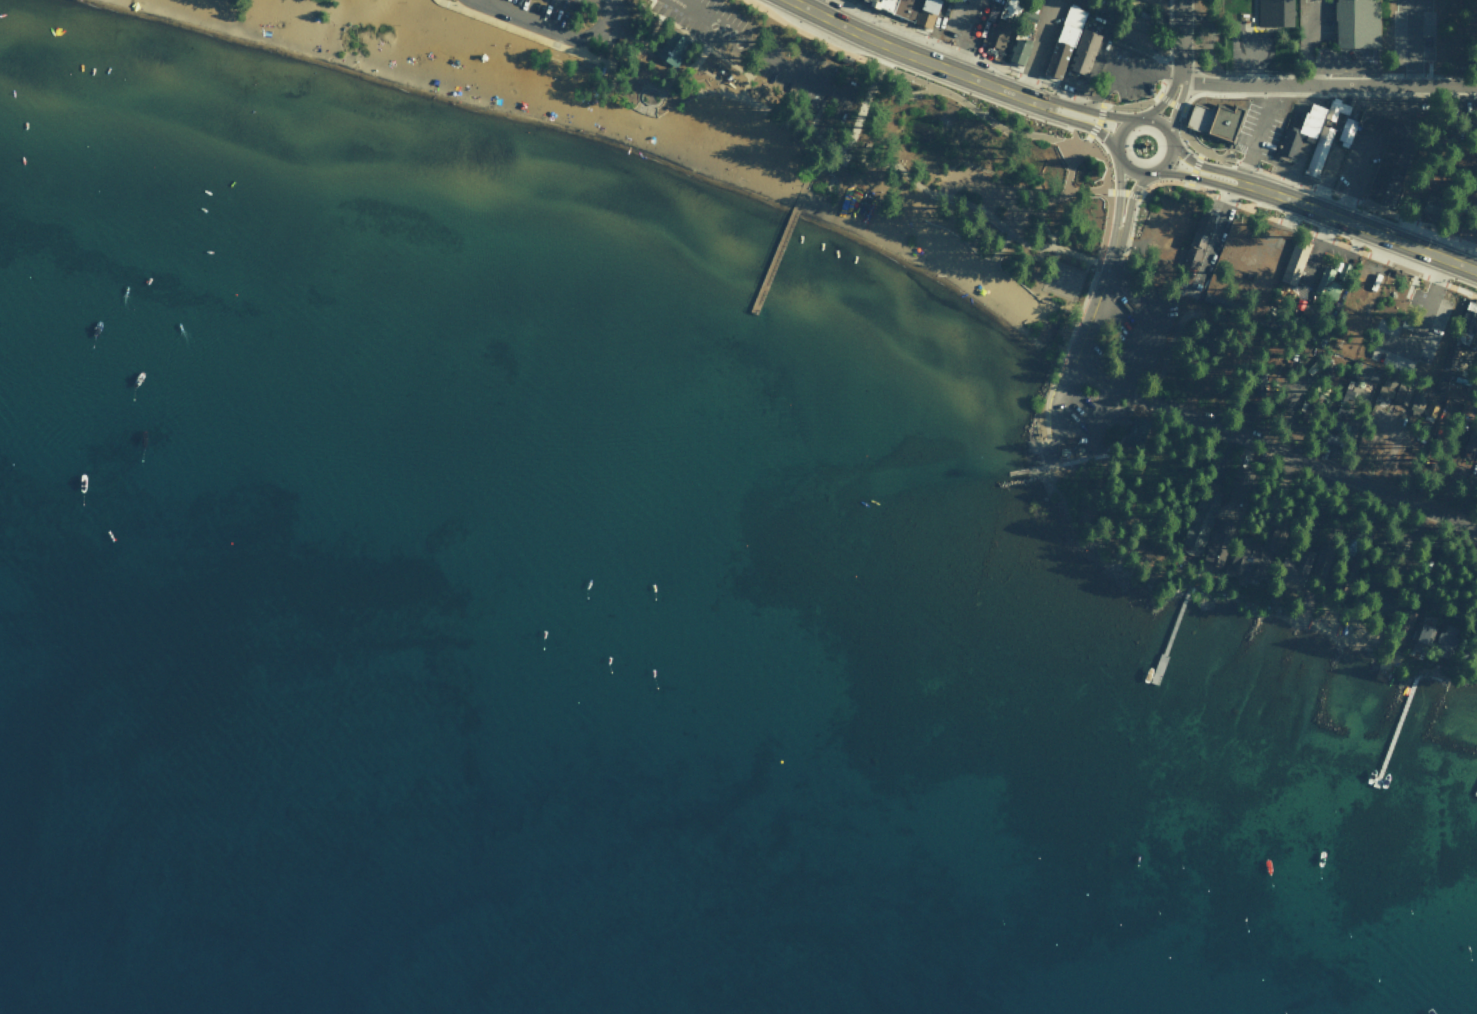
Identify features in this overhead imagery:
building: (881, 4)
building: (904, 7)
building: (1008, 10)
building: (926, 12)
building: (1275, 13)
parking lot: (531, 14)
building: (1027, 18)
building: (1356, 23)
building: (1135, 27)
road: (551, 29)
building: (996, 34)
building: (1063, 39)
road: (1177, 39)
road: (704, 45)
building: (671, 46)
building: (1084, 46)
road: (1168, 47)
road: (952, 48)
building: (1019, 51)
parking lot: (764, 53)
road: (760, 54)
road: (700, 56)
road: (917, 56)
parking lot: (1125, 73)
road: (907, 75)
road: (1123, 79)
road: (1326, 83)
road: (1303, 93)
road: (1169, 101)
road: (1160, 103)
road: (1112, 105)
road: (762, 106)
building: (1336, 107)
road: (1173, 108)
road: (1089, 110)
road: (816, 115)
building: (1214, 120)
road: (1081, 123)
road: (1156, 123)
road: (1093, 126)
road: (1120, 129)
building: (1299, 132)
building: (1346, 132)
road: (1258, 133)
road: (1191, 142)
building: (1318, 150)
road: (1098, 154)
building: (1387, 154)
road: (1163, 161)
road: (813, 163)
road: (1194, 165)
road: (1203, 165)
road: (1125, 166)
road: (1194, 176)
road: (1122, 191)
park: (805, 193)
road: (1350, 198)
road: (1115, 208)
road: (1125, 214)
road: (1359, 225)
road: (1306, 229)
building: (1197, 239)
road: (1125, 243)
pier: (777, 249)
building: (1294, 263)
building: (1327, 284)
road: (1084, 295)
road: (1085, 316)
building: (1470, 316)
building: (1455, 359)
building: (1362, 378)
building: (1449, 385)
building: (1257, 386)
building: (1403, 395)
building: (1416, 403)
road: (1058, 406)
building: (1344, 412)
building: (1339, 427)
building: (1135, 430)
building: (1471, 441)
road: (1273, 448)
pier: (1027, 468)
building: (1240, 482)
building: (1201, 517)
building: (1274, 536)
building: (1246, 559)
building: (1295, 564)
building: (1381, 601)
building: (1402, 626)
building: (1422, 633)
pier: (1168, 635)
building: (1445, 639)
building: (1475, 662)
pier: (1395, 727)
pier: (1476, 789)

